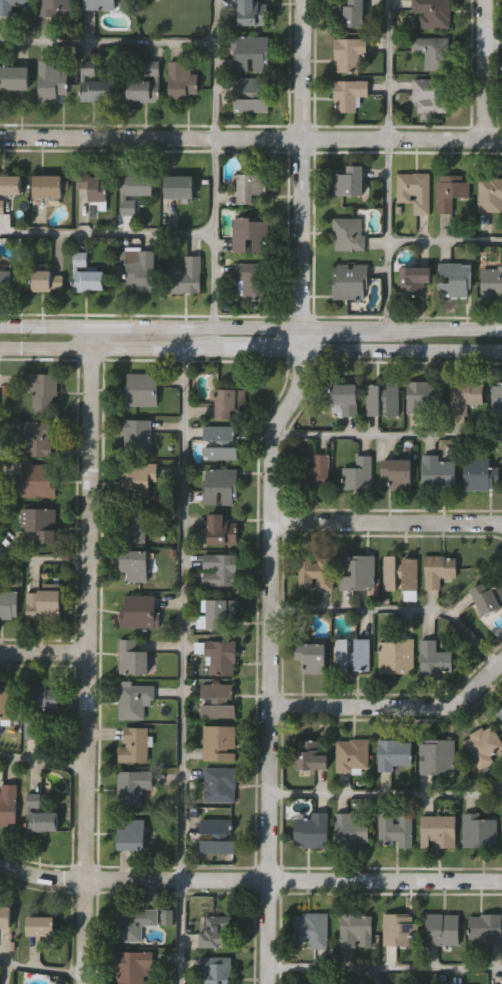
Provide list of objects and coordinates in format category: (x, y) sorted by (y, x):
building: (146, 0)
building: (99, 4)
building: (12, 5)
building: (53, 5)
building: (251, 12)
building: (351, 13)
building: (435, 13)
road: (108, 43)
road: (493, 46)
building: (249, 51)
building: (434, 51)
building: (348, 52)
road: (485, 69)
building: (16, 76)
building: (52, 80)
building: (182, 81)
building: (94, 84)
building: (147, 85)
building: (251, 93)
building: (350, 93)
building: (431, 95)
road: (251, 138)
road: (215, 163)
road: (389, 163)
building: (349, 181)
building: (95, 184)
building: (49, 185)
building: (180, 185)
building: (251, 185)
building: (10, 187)
building: (135, 189)
building: (413, 190)
building: (451, 192)
building: (490, 193)
building: (348, 233)
road: (107, 234)
building: (250, 234)
road: (445, 242)
building: (140, 269)
building: (86, 275)
building: (188, 276)
building: (252, 278)
building: (46, 279)
building: (415, 279)
building: (455, 279)
building: (6, 280)
building: (351, 281)
building: (492, 283)
road: (150, 325)
road: (401, 327)
road: (250, 349)
building: (42, 388)
building: (140, 390)
building: (424, 395)
building: (347, 396)
building: (466, 396)
building: (383, 398)
building: (497, 399)
building: (228, 401)
building: (138, 434)
building: (40, 436)
road: (388, 437)
building: (219, 443)
building: (399, 472)
building: (438, 472)
building: (481, 473)
building: (313, 474)
building: (359, 474)
building: (138, 478)
building: (39, 479)
building: (219, 485)
road: (270, 488)
building: (41, 522)
road: (386, 522)
building: (137, 524)
building: (222, 532)
road: (44, 560)
building: (137, 565)
building: (221, 569)
building: (439, 571)
building: (316, 572)
building: (359, 572)
building: (398, 573)
building: (487, 597)
building: (45, 603)
building: (9, 604)
road: (394, 610)
building: (141, 613)
building: (220, 613)
road: (43, 651)
road: (85, 654)
building: (312, 655)
building: (353, 655)
building: (397, 656)
building: (221, 658)
building: (435, 658)
building: (133, 659)
road: (184, 666)
building: (218, 699)
building: (134, 701)
building: (8, 704)
road: (394, 706)
building: (38, 708)
building: (500, 711)
building: (500, 716)
building: (219, 741)
building: (136, 744)
building: (484, 744)
building: (311, 753)
building: (353, 753)
building: (393, 753)
building: (438, 755)
road: (41, 763)
building: (220, 783)
building: (134, 784)
road: (386, 795)
building: (9, 803)
building: (40, 816)
building: (313, 828)
building: (351, 828)
building: (397, 828)
building: (438, 829)
building: (479, 829)
building: (134, 834)
building: (218, 835)
road: (249, 879)
building: (6, 916)
building: (136, 922)
building: (41, 925)
building: (444, 927)
building: (486, 927)
building: (313, 928)
building: (400, 928)
building: (215, 929)
building: (357, 929)
building: (135, 965)
building: (218, 968)
road: (384, 969)
road: (40, 971)
road: (356, 976)
building: (0, 978)

